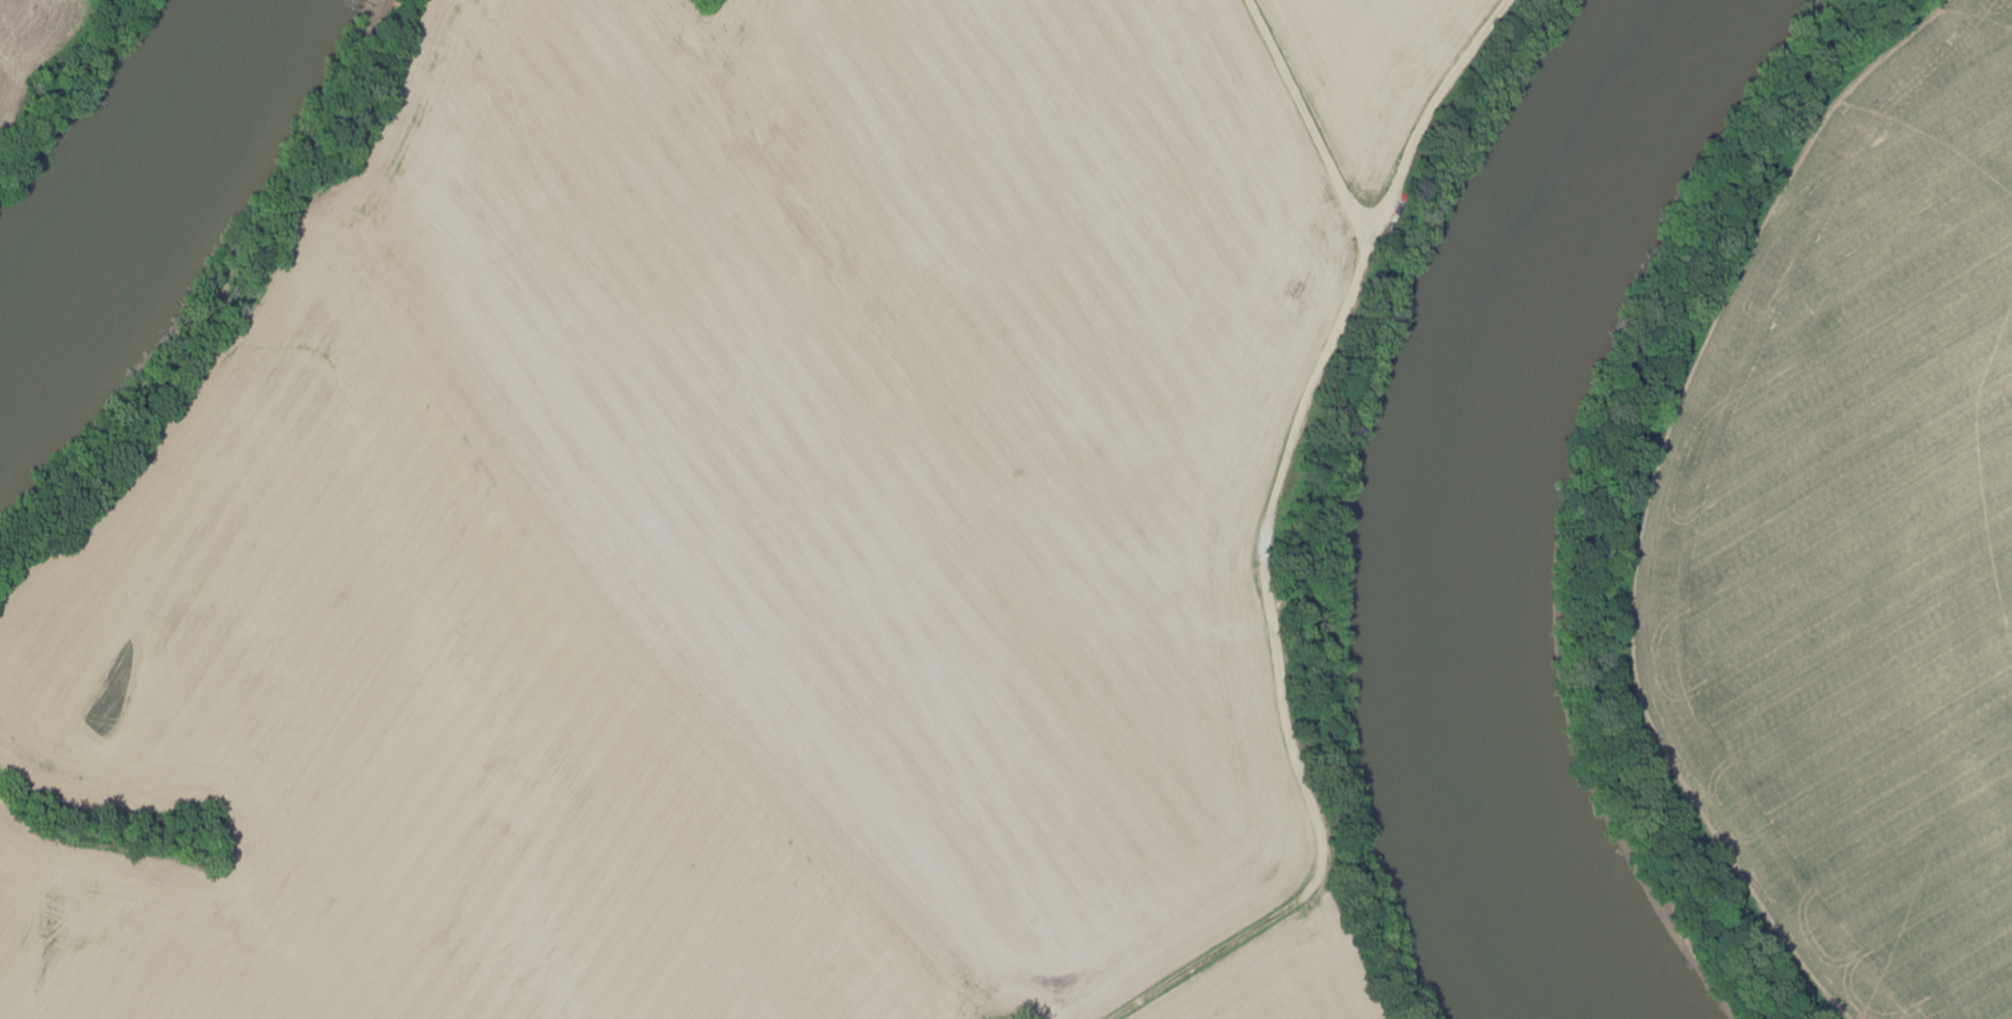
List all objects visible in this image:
river: (121, 164)
river: (1428, 495)

